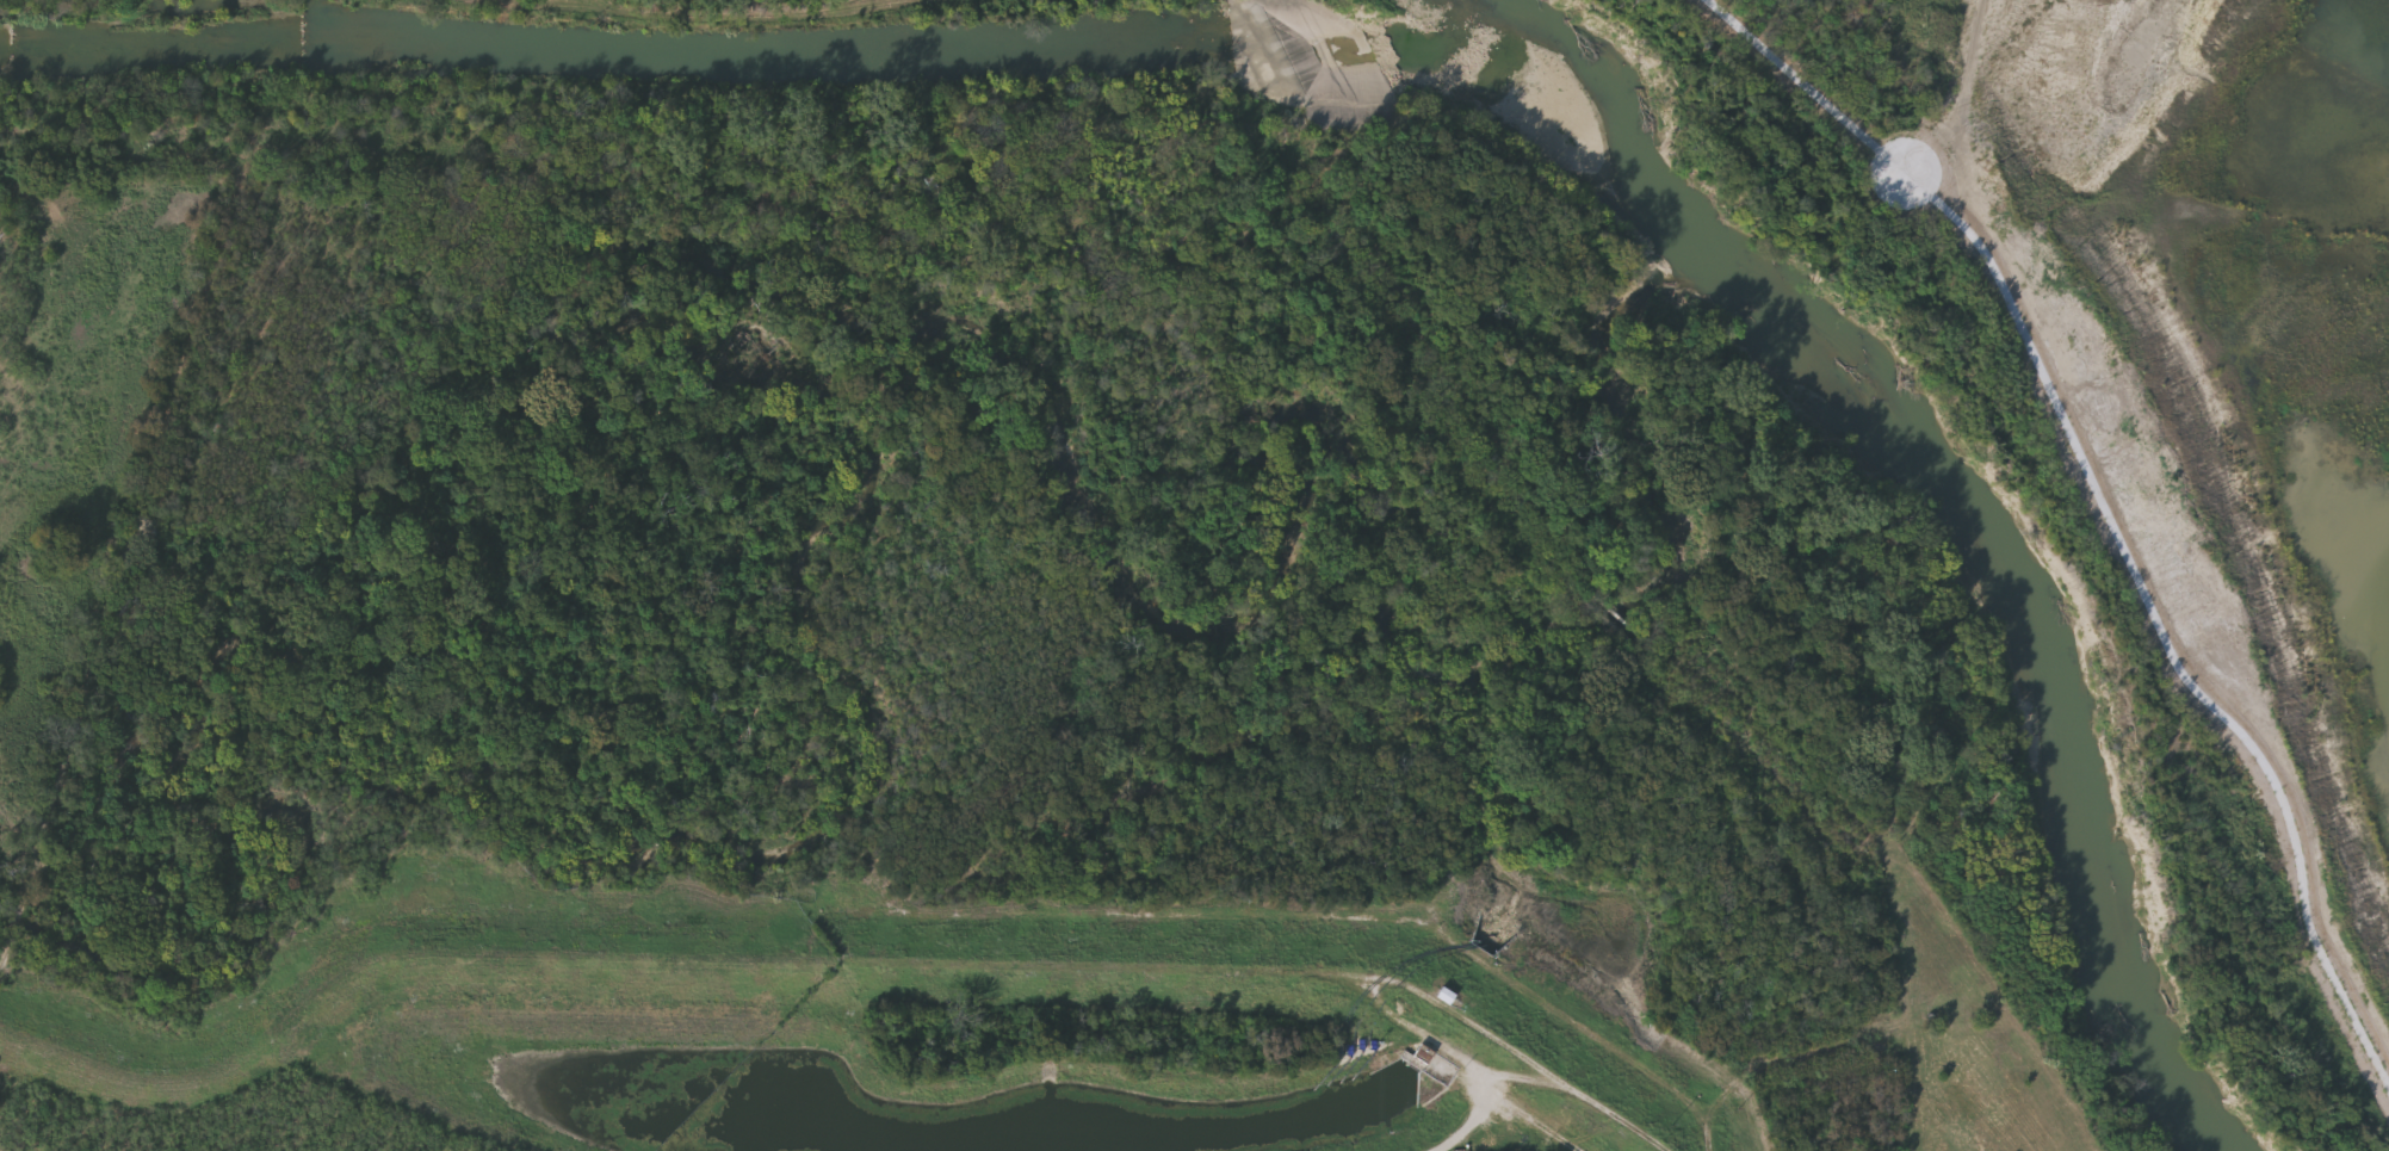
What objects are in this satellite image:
dam: (1310, 56)
river: (1957, 500)
road: (2119, 533)
building: (1444, 997)
building: (1424, 1056)
road: (1477, 1121)
road: (1530, 1122)

